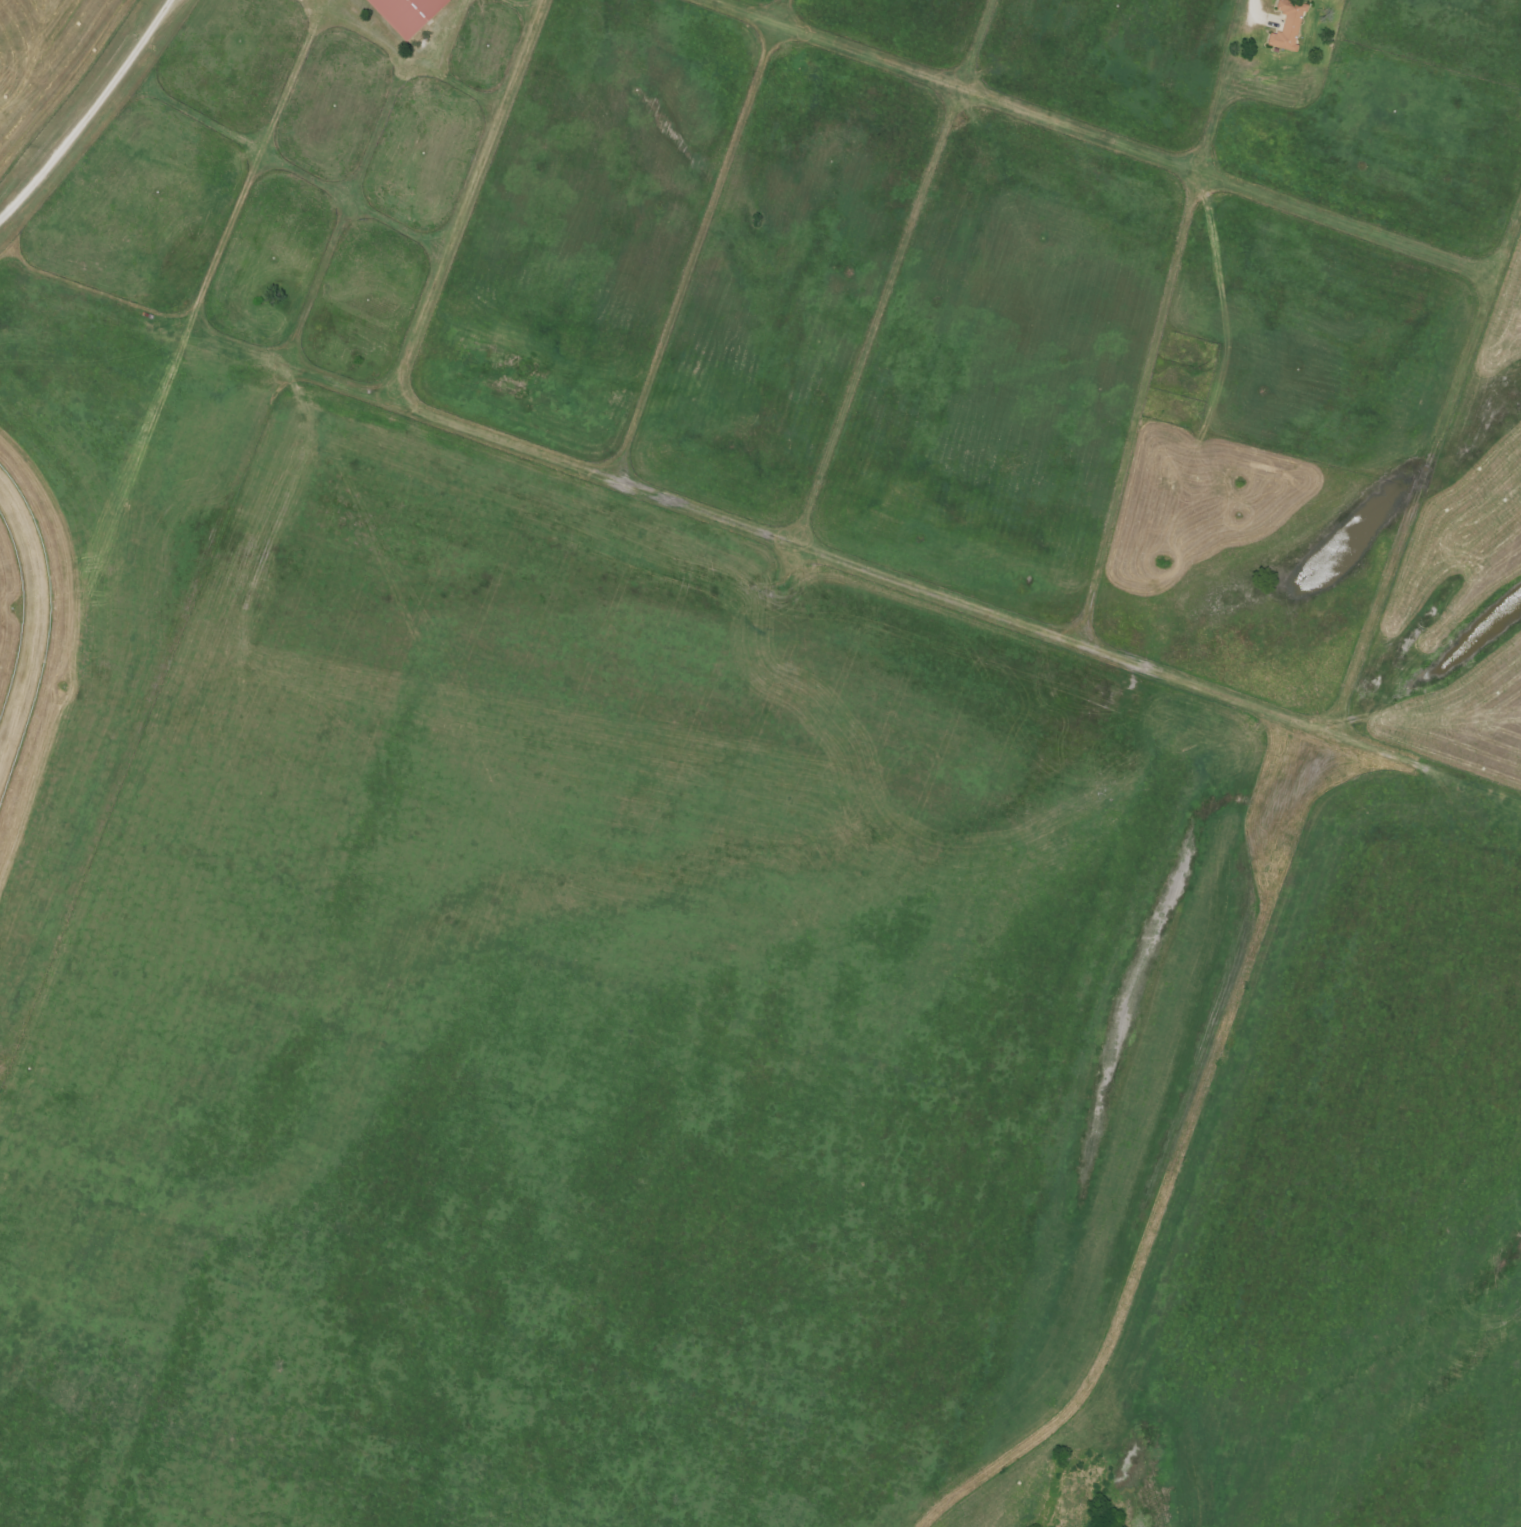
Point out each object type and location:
road: (1260, 6)
building: (404, 13)
building: (1288, 25)
road: (92, 114)

